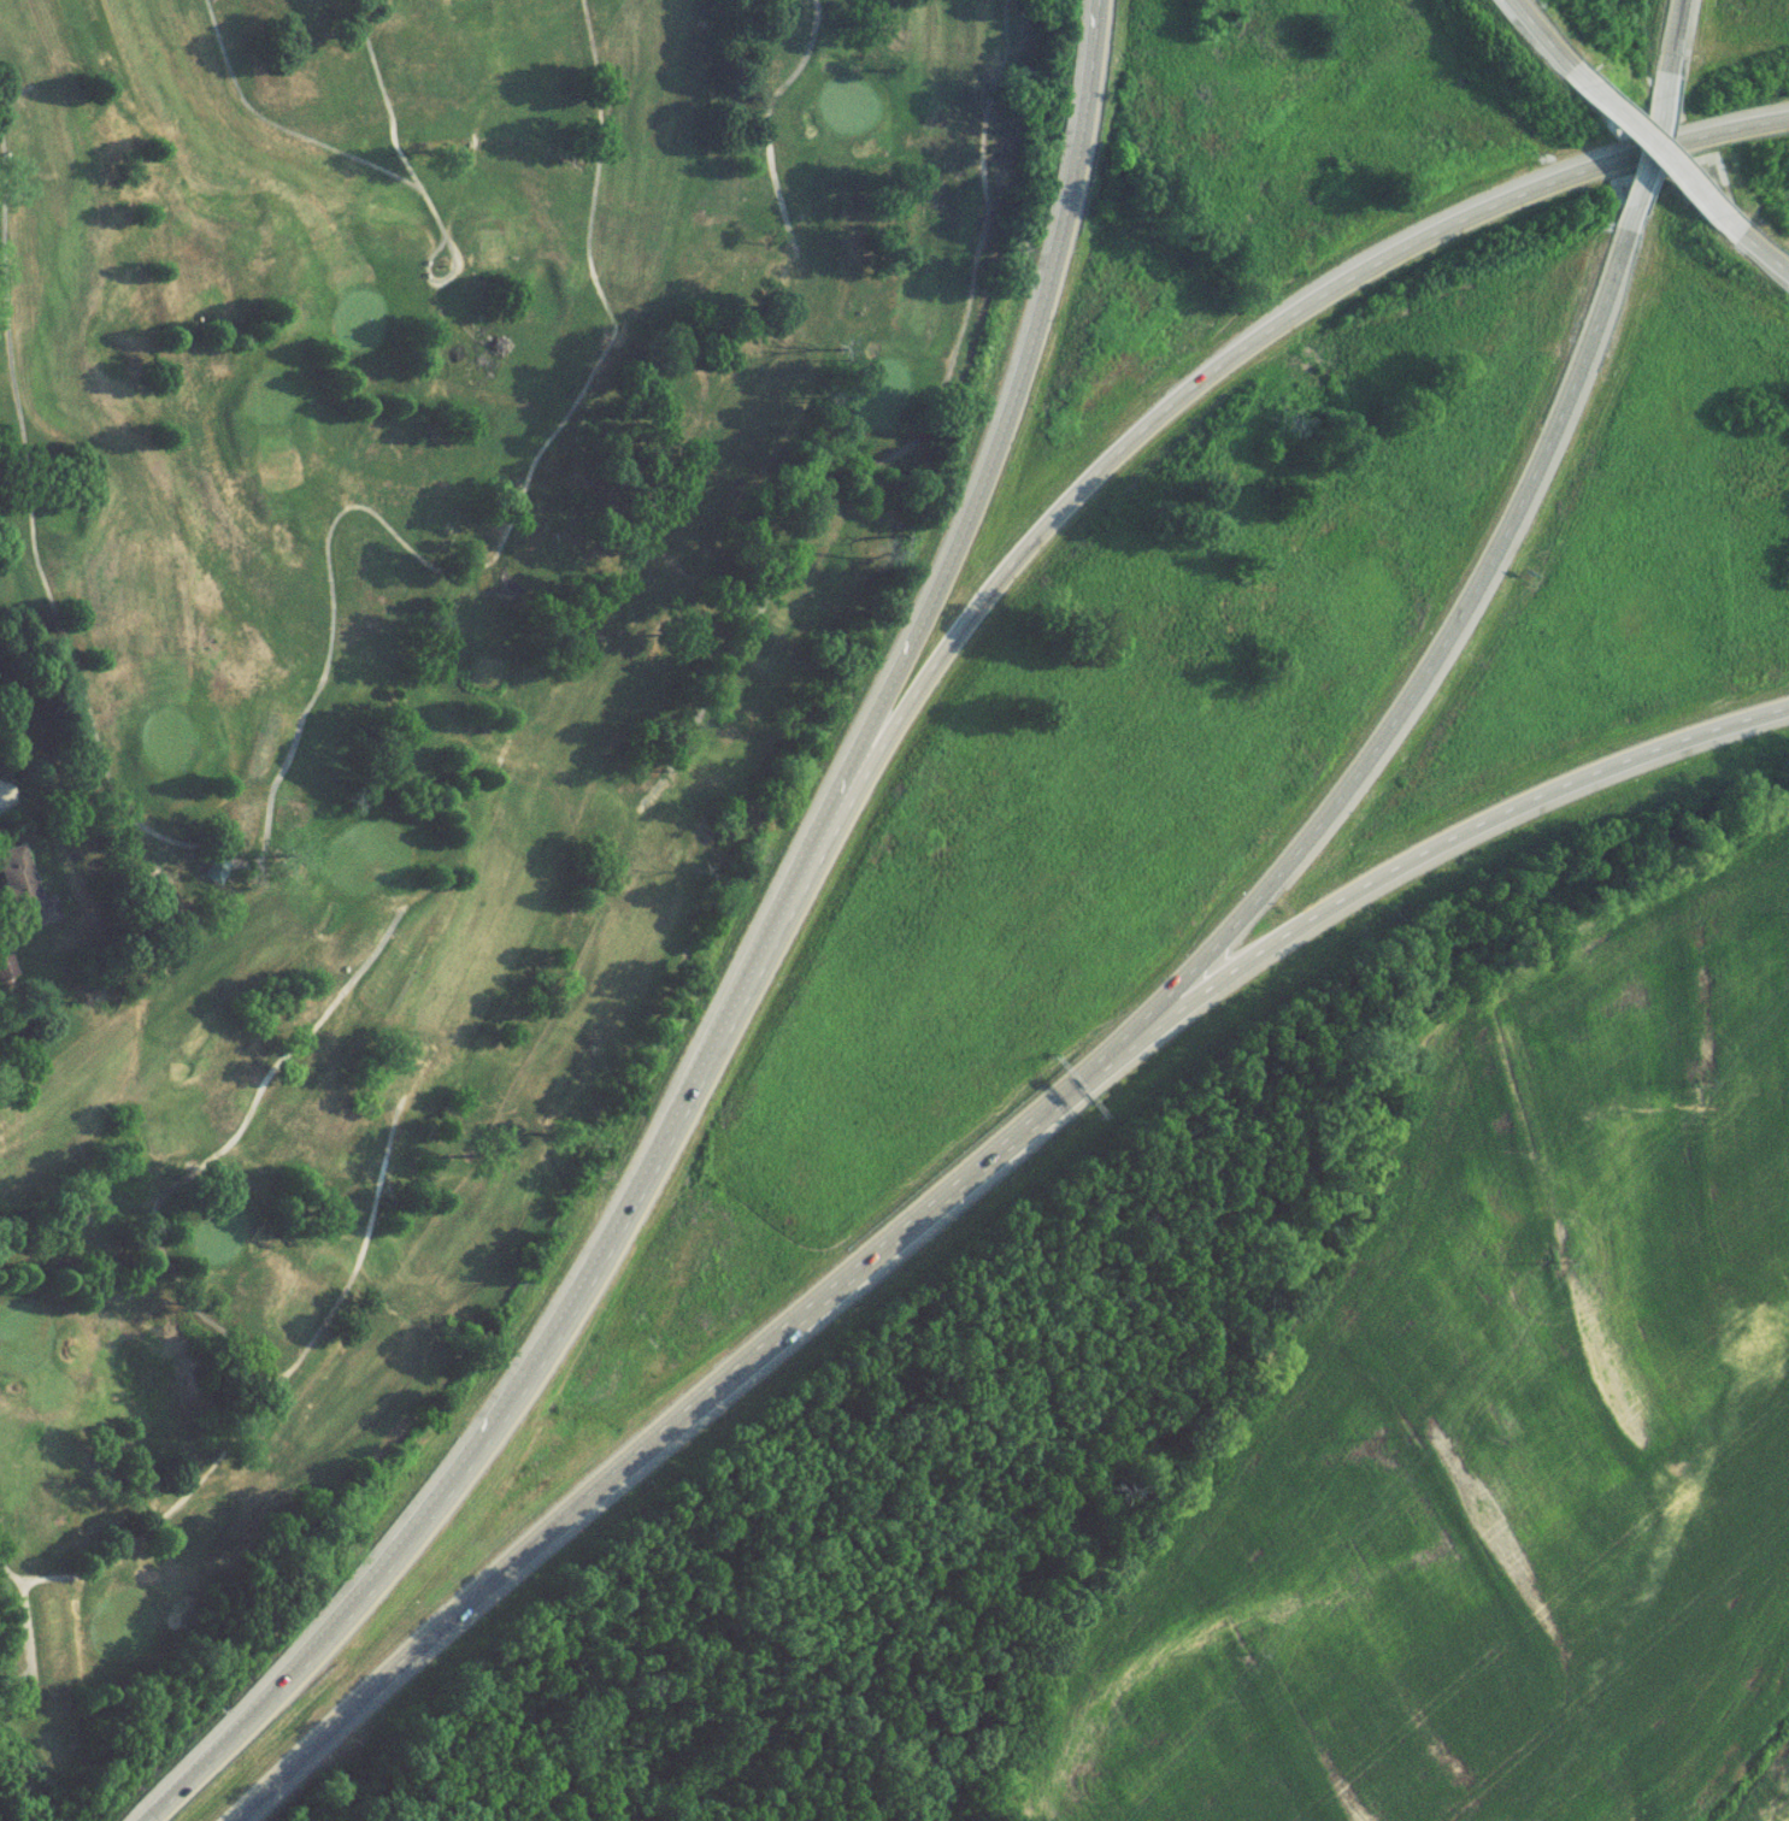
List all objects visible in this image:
road: (1676, 39)
road: (1540, 45)
road: (381, 96)
road: (763, 123)
road: (1652, 146)
road: (333, 155)
road: (1644, 158)
road: (451, 251)
road: (1753, 252)
park: (357, 322)
road: (952, 355)
road: (12, 366)
road: (1225, 370)
park: (873, 394)
road: (998, 430)
road: (363, 513)
road: (1435, 664)
road: (695, 726)
park: (476, 780)
road: (1442, 849)
road: (25, 955)
road: (229, 1139)
road: (537, 1366)
road: (679, 1430)
road: (231, 1454)
road: (13, 1574)

